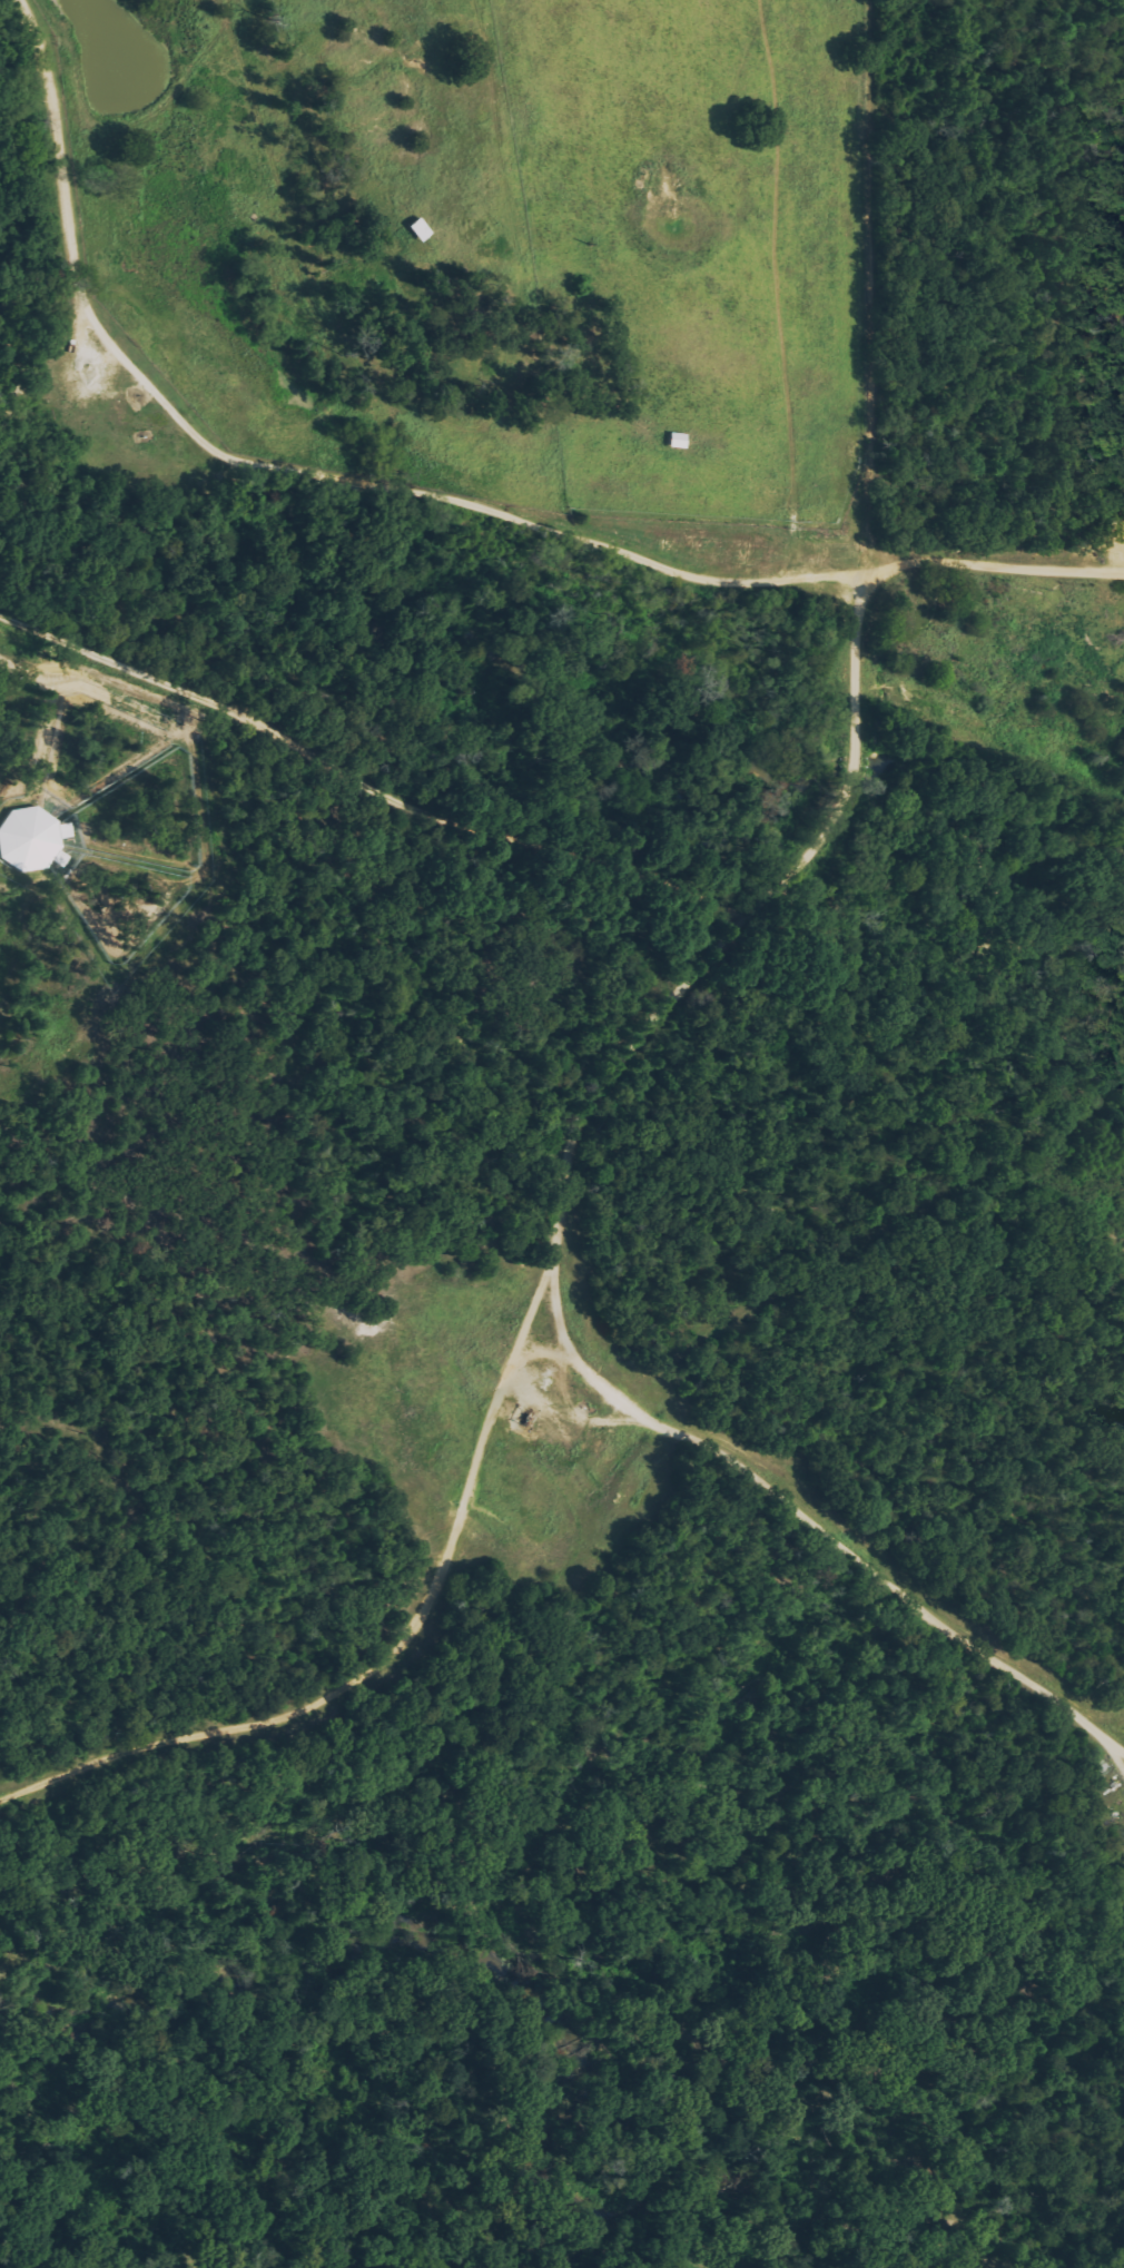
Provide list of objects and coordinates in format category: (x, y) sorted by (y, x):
building: (416, 230)
building: (674, 441)
road: (413, 499)
building: (29, 840)

